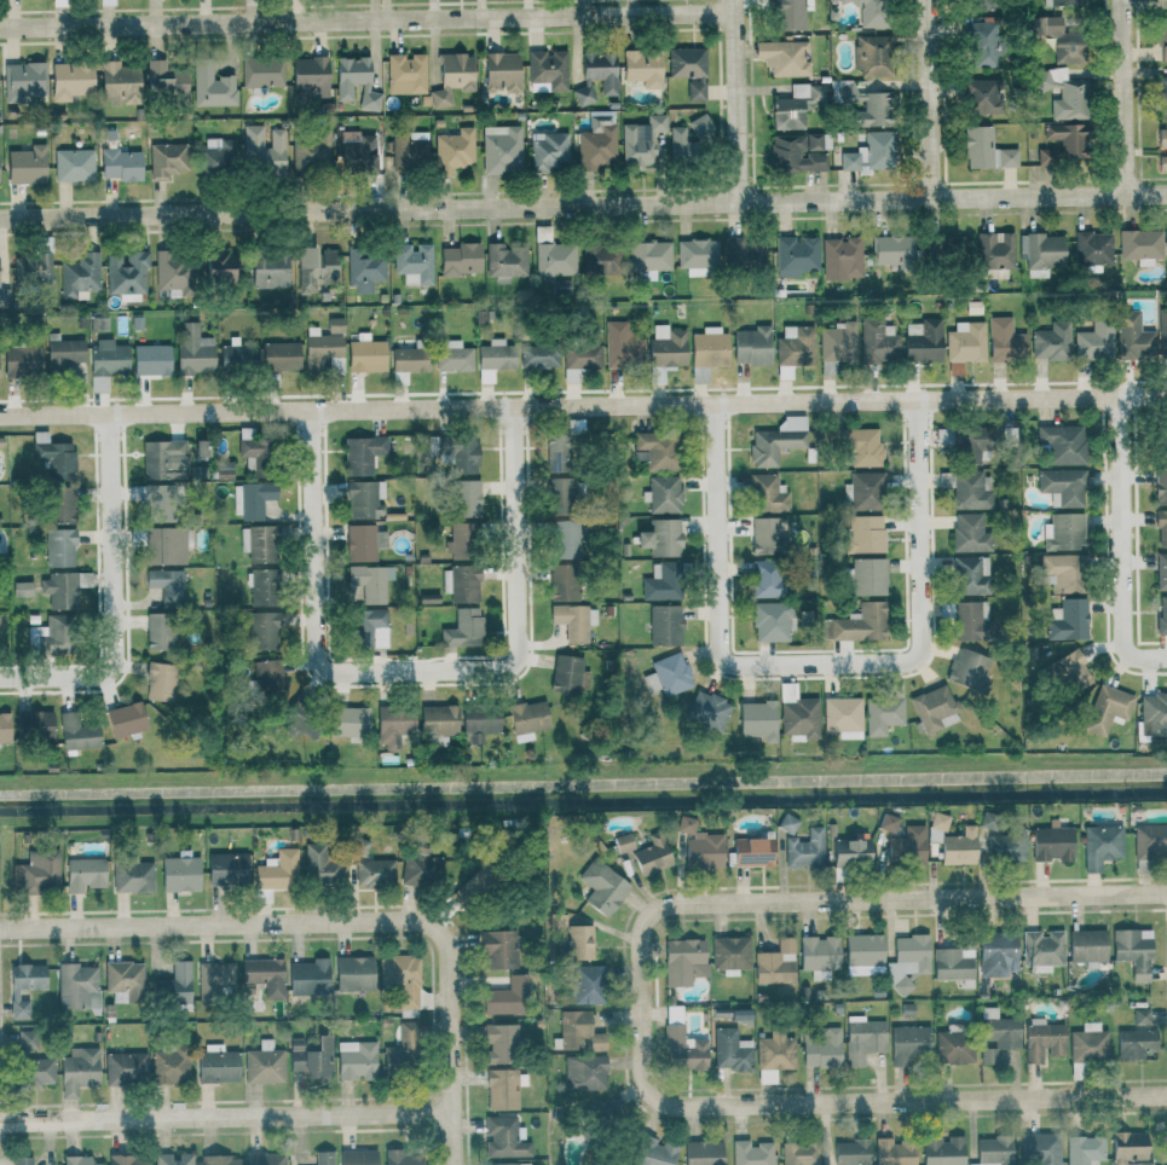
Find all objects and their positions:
building: (106, 2)
building: (1062, 2)
building: (977, 5)
building: (788, 12)
building: (868, 12)
road: (368, 16)
building: (1039, 25)
building: (1162, 40)
building: (980, 42)
building: (1065, 47)
building: (871, 56)
building: (784, 57)
building: (686, 62)
building: (643, 66)
building: (501, 70)
building: (547, 70)
building: (601, 70)
building: (261, 74)
building: (405, 74)
building: (310, 77)
building: (452, 77)
building: (164, 79)
building: (70, 80)
building: (24, 81)
building: (117, 81)
building: (354, 82)
building: (212, 86)
building: (695, 89)
building: (1064, 93)
building: (977, 94)
building: (583, 95)
building: (1162, 95)
road: (740, 100)
road: (925, 100)
road: (1131, 100)
building: (876, 105)
building: (795, 106)
building: (1067, 138)
building: (687, 139)
building: (641, 141)
building: (597, 144)
building: (262, 149)
building: (406, 149)
building: (501, 149)
building: (1162, 149)
building: (312, 150)
building: (453, 150)
building: (986, 150)
building: (549, 151)
building: (798, 152)
building: (357, 153)
building: (870, 153)
building: (216, 155)
building: (166, 160)
building: (25, 164)
building: (73, 164)
building: (120, 164)
road: (583, 204)
building: (1140, 245)
building: (890, 249)
building: (943, 249)
building: (994, 250)
building: (1092, 250)
building: (1040, 253)
building: (744, 254)
building: (695, 255)
building: (795, 255)
building: (600, 257)
building: (840, 257)
building: (554, 259)
building: (648, 259)
building: (460, 260)
building: (0, 261)
building: (504, 261)
building: (412, 263)
building: (219, 267)
building: (314, 267)
building: (31, 268)
building: (363, 268)
building: (268, 269)
building: (126, 273)
building: (173, 273)
building: (992, 273)
building: (79, 276)
building: (335, 325)
building: (1162, 332)
building: (1133, 336)
building: (923, 340)
building: (1093, 340)
building: (878, 341)
building: (965, 342)
building: (1005, 342)
building: (1051, 342)
building: (622, 346)
building: (666, 346)
building: (752, 346)
building: (795, 346)
building: (837, 346)
building: (709, 347)
building: (63, 350)
building: (193, 350)
building: (322, 350)
building: (365, 354)
building: (538, 354)
building: (452, 355)
building: (582, 355)
building: (279, 357)
building: (237, 358)
building: (22, 359)
building: (150, 359)
building: (409, 359)
building: (493, 359)
building: (106, 363)
road: (583, 405)
building: (1163, 441)
building: (1063, 444)
building: (966, 445)
building: (859, 446)
building: (201, 447)
building: (252, 450)
building: (654, 451)
building: (453, 452)
building: (561, 452)
building: (362, 453)
building: (53, 457)
building: (163, 459)
building: (197, 471)
building: (1161, 485)
building: (1062, 486)
building: (966, 489)
building: (863, 491)
building: (663, 494)
building: (767, 494)
building: (560, 495)
building: (362, 498)
building: (464, 498)
building: (252, 499)
building: (160, 503)
building: (58, 504)
building: (1161, 528)
building: (970, 532)
building: (1064, 532)
building: (865, 533)
building: (764, 535)
building: (660, 537)
building: (562, 539)
building: (458, 541)
building: (258, 543)
building: (363, 543)
road: (1122, 543)
building: (164, 545)
building: (59, 547)
building: (1063, 572)
building: (1161, 572)
building: (969, 575)
building: (863, 576)
road: (919, 576)
building: (764, 578)
road: (717, 580)
building: (370, 581)
building: (660, 581)
building: (562, 582)
road: (317, 584)
building: (461, 584)
building: (166, 585)
road: (515, 585)
building: (262, 587)
building: (59, 590)
road: (112, 591)
building: (1162, 615)
building: (967, 620)
building: (1068, 620)
building: (571, 621)
building: (772, 621)
building: (664, 624)
building: (857, 624)
building: (368, 628)
building: (462, 628)
building: (262, 630)
building: (160, 631)
building: (48, 636)
building: (967, 670)
building: (1069, 673)
building: (566, 674)
building: (668, 674)
road: (6, 677)
building: (267, 677)
building: (160, 682)
building: (934, 708)
building: (1107, 708)
building: (707, 711)
building: (1154, 713)
building: (882, 714)
building: (842, 717)
building: (125, 719)
building: (526, 719)
building: (758, 719)
building: (799, 719)
building: (349, 720)
building: (438, 720)
building: (479, 723)
building: (33, 725)
building: (393, 725)
building: (4, 728)
building: (76, 732)
building: (888, 823)
building: (1149, 841)
building: (622, 842)
building: (1051, 844)
building: (1100, 845)
building: (699, 846)
building: (906, 846)
building: (957, 847)
building: (1005, 847)
building: (804, 850)
building: (751, 852)
building: (850, 852)
building: (651, 854)
building: (319, 865)
building: (421, 866)
building: (226, 868)
building: (277, 870)
building: (375, 871)
building: (36, 874)
building: (83, 874)
building: (179, 874)
building: (132, 876)
building: (602, 887)
building: (464, 889)
road: (860, 900)
road: (312, 925)
building: (1087, 945)
building: (1042, 947)
building: (497, 949)
building: (863, 950)
building: (1133, 951)
building: (819, 952)
building: (730, 954)
building: (995, 956)
building: (683, 961)
building: (907, 961)
building: (775, 963)
building: (953, 964)
building: (353, 973)
building: (264, 975)
building: (307, 975)
building: (215, 978)
building: (401, 978)
building: (123, 980)
building: (173, 985)
building: (587, 985)
building: (23, 986)
building: (76, 986)
building: (505, 997)
building: (423, 999)
building: (578, 1031)
building: (996, 1034)
building: (862, 1038)
building: (1136, 1038)
building: (27, 1041)
building: (1042, 1041)
building: (497, 1042)
building: (908, 1043)
building: (953, 1044)
building: (1088, 1044)
building: (822, 1048)
building: (682, 1049)
building: (730, 1050)
building: (774, 1055)
building: (311, 1057)
building: (392, 1057)
building: (356, 1059)
building: (216, 1063)
building: (264, 1063)
building: (169, 1065)
building: (125, 1067)
building: (77, 1071)
building: (39, 1072)
building: (584, 1072)
building: (501, 1089)
road: (861, 1100)
road: (227, 1115)
road: (453, 1137)
building: (503, 1138)
building: (1128, 1148)
building: (1040, 1149)
building: (1085, 1149)
building: (942, 1150)
building: (993, 1150)
building: (652, 1152)
building: (851, 1152)
building: (703, 1153)
building: (752, 1153)
building: (799, 1153)
building: (892, 1153)
building: (358, 1157)
building: (403, 1157)
building: (324, 1158)
building: (173, 1159)
building: (265, 1159)
building: (22, 1160)
building: (77, 1160)
building: (127, 1160)
building: (220, 1160)
building: (504, 1164)

